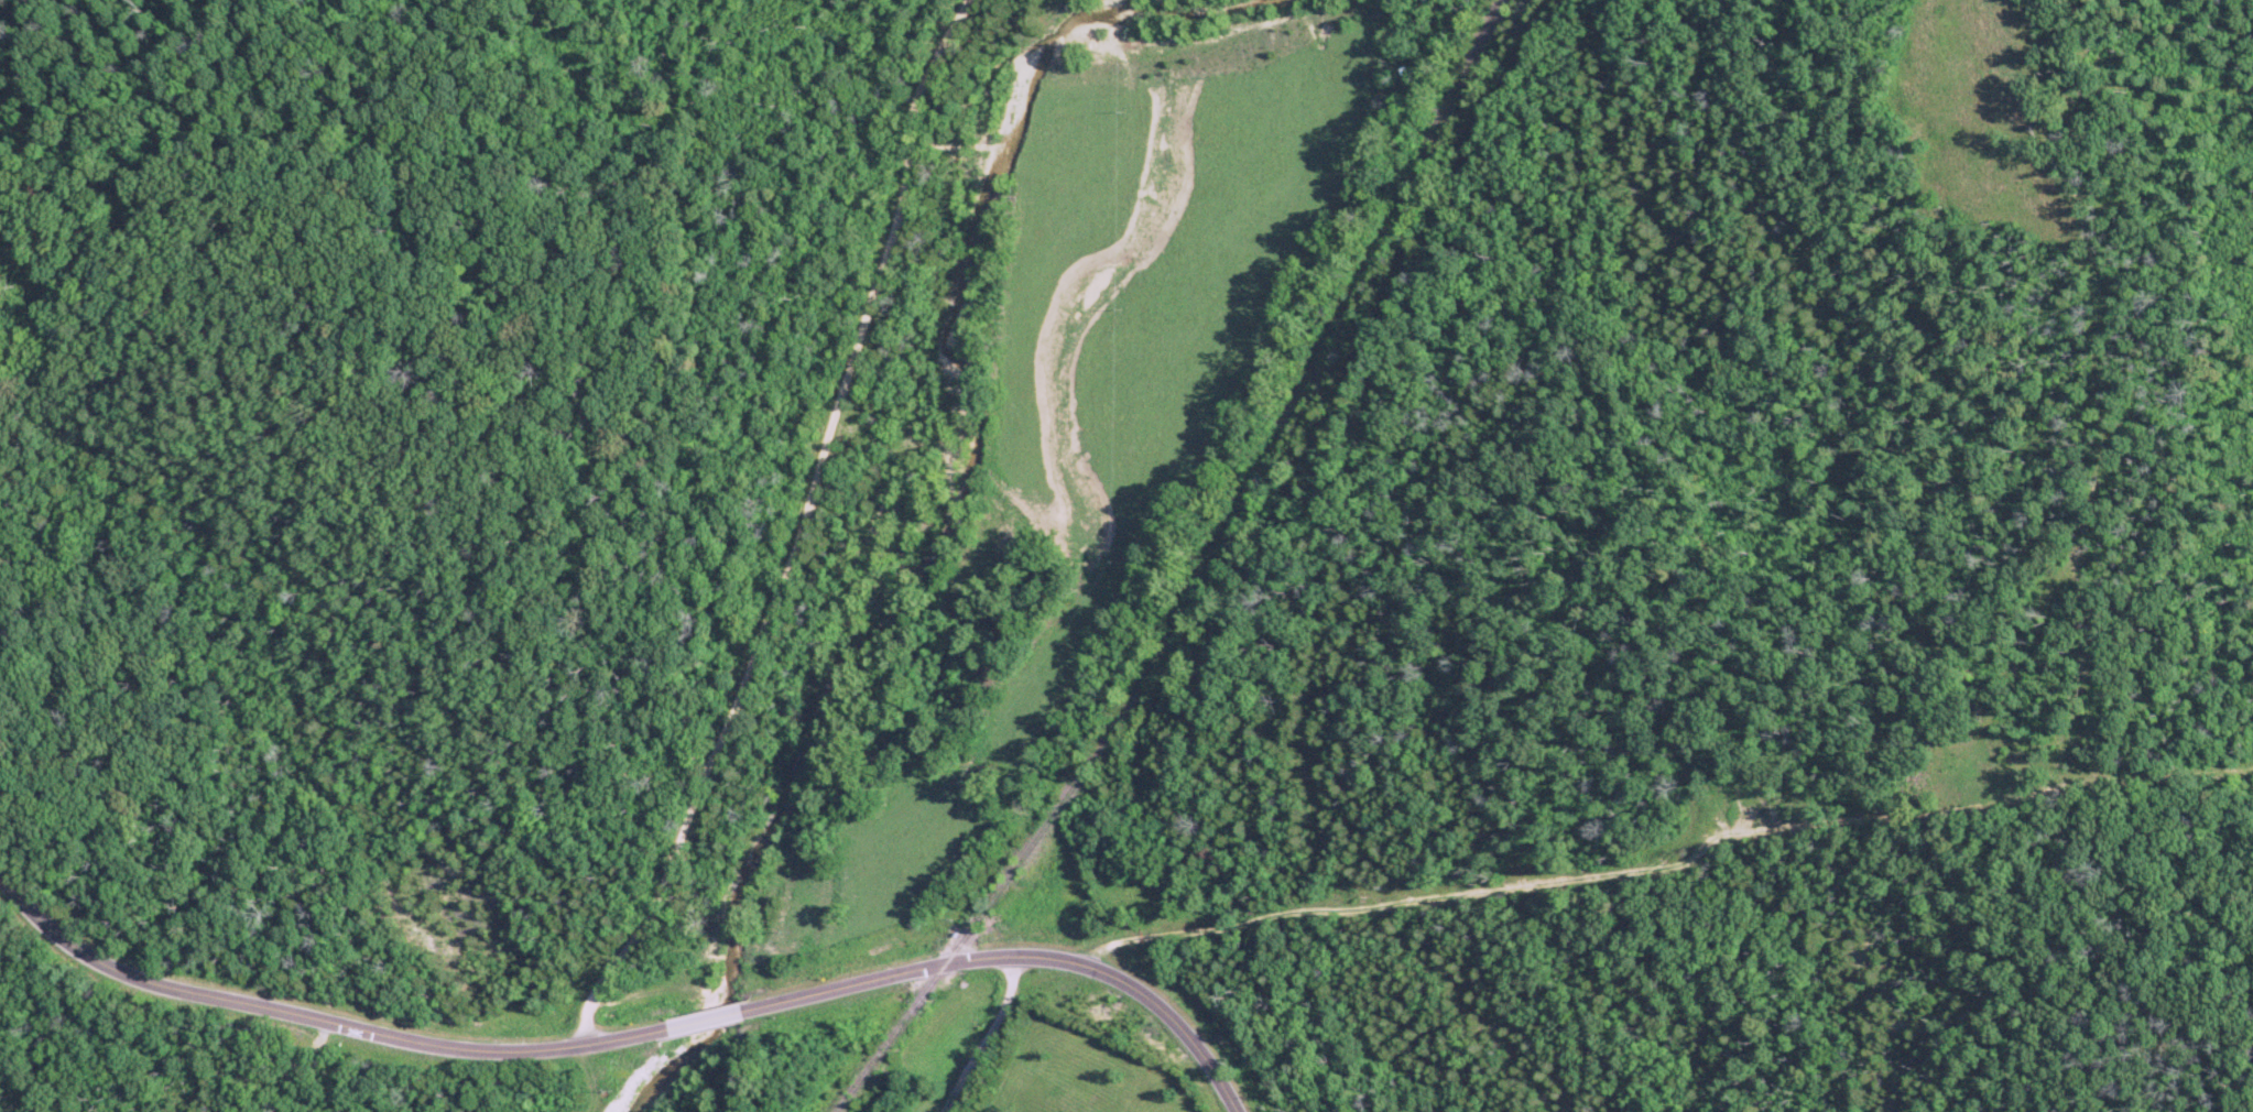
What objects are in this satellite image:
road: (802, 534)
railway: (1208, 577)
road: (632, 1035)
road: (983, 1036)

